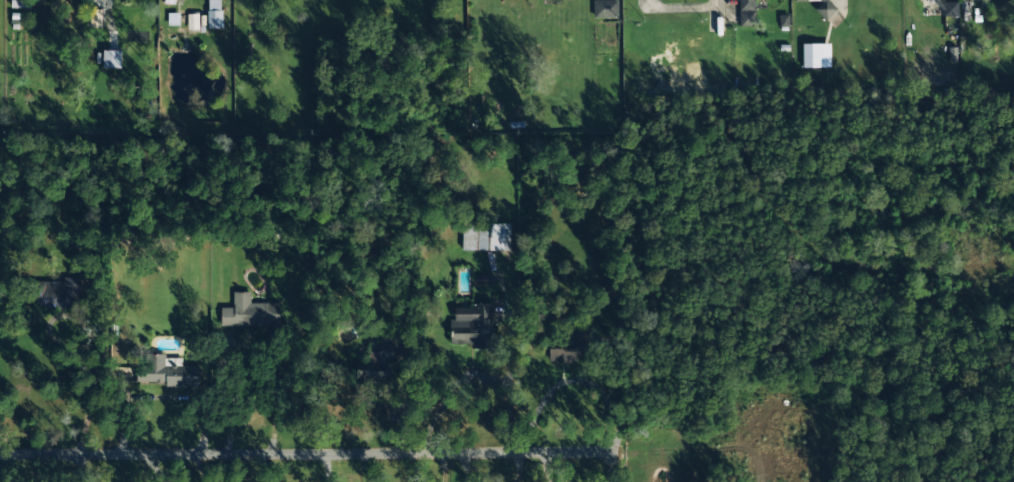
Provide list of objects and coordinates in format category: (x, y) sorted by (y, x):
building: (21, 4)
building: (825, 8)
building: (605, 9)
building: (950, 9)
building: (748, 13)
building: (214, 14)
road: (717, 16)
building: (95, 18)
building: (193, 22)
building: (816, 55)
building: (112, 59)
building: (486, 237)
building: (482, 280)
building: (55, 294)
building: (250, 312)
building: (474, 328)
building: (567, 348)
building: (376, 365)
building: (162, 372)
building: (129, 375)
road: (309, 454)
road: (82, 468)
road: (154, 468)

